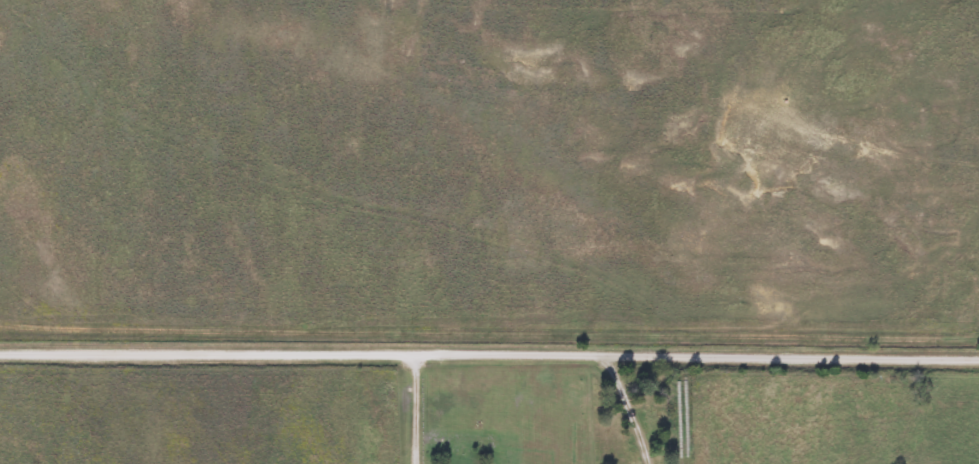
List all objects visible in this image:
road: (489, 352)

